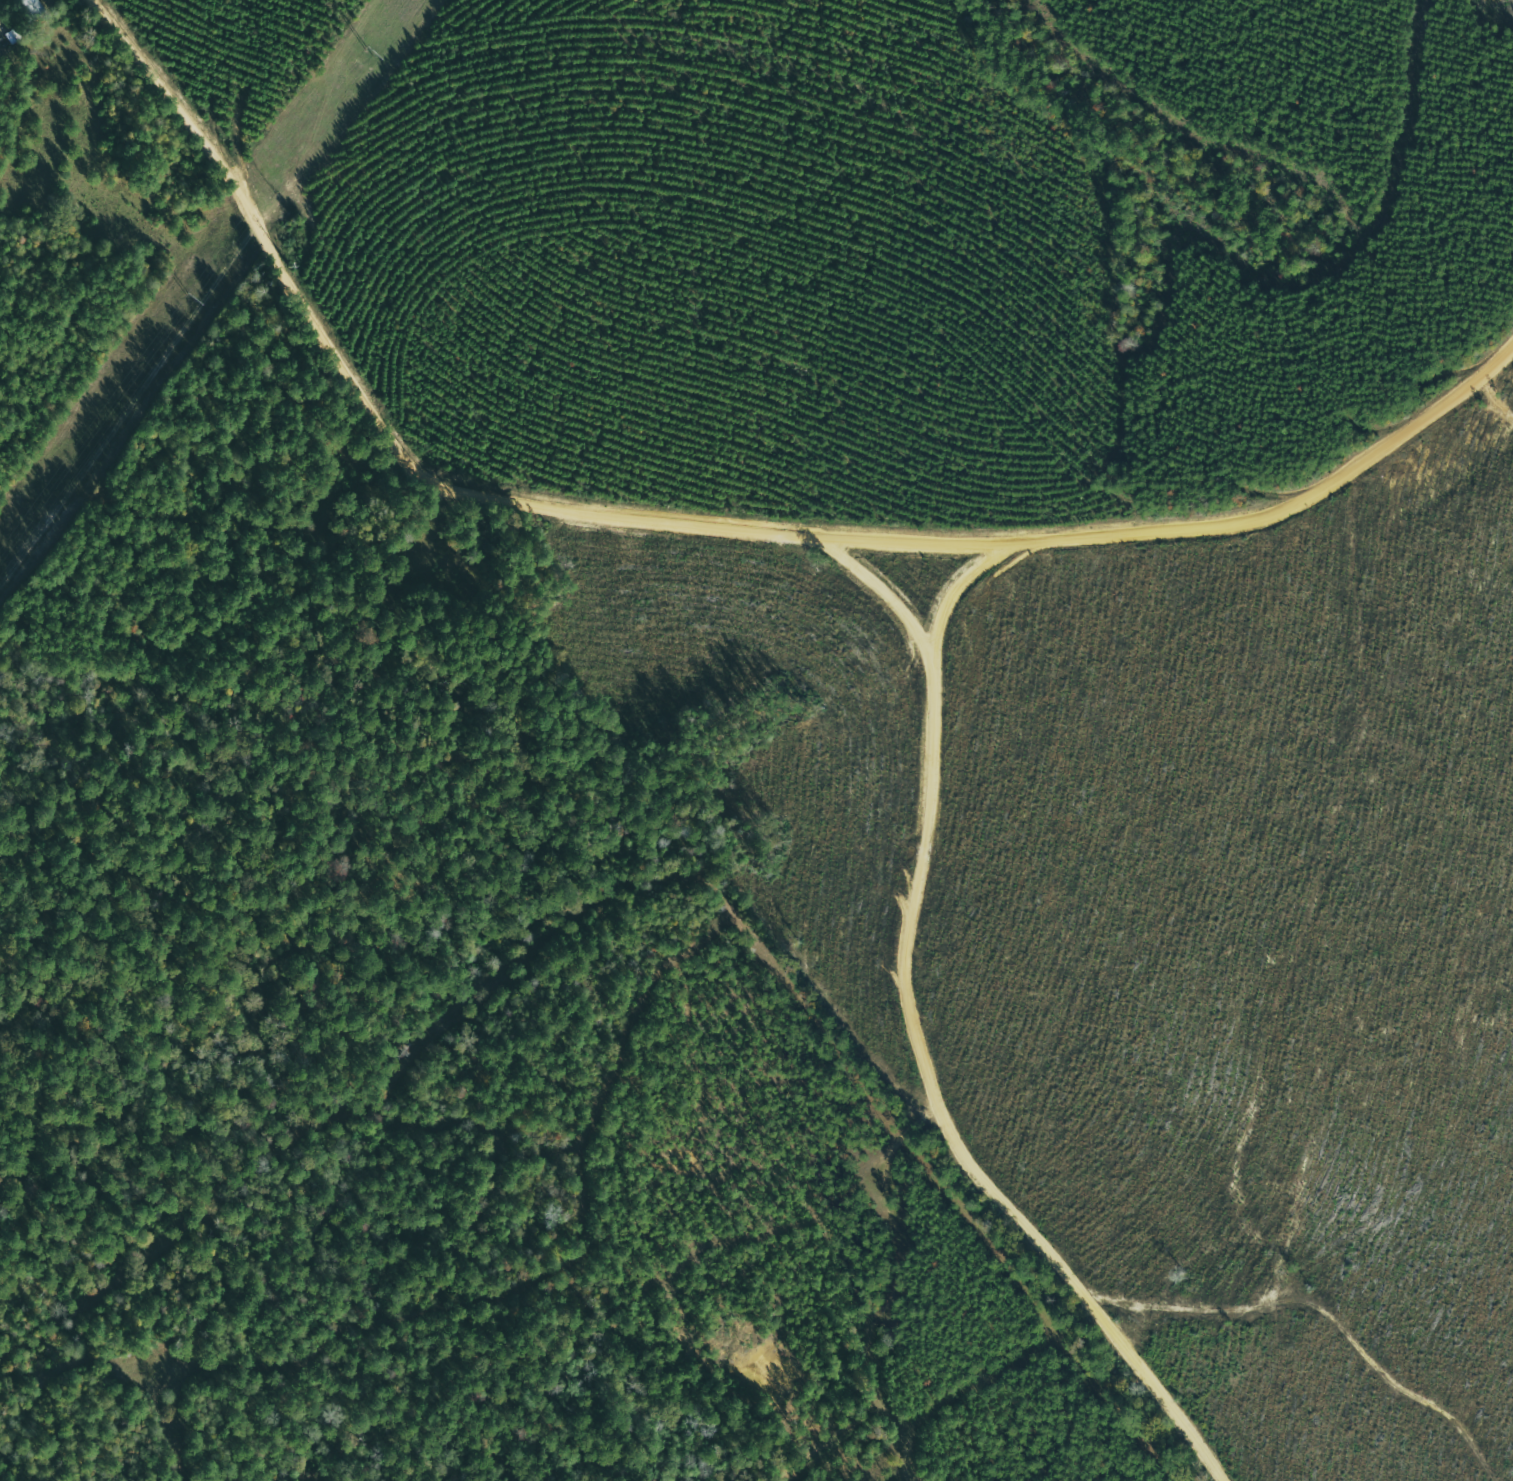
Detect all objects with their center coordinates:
building: (28, 9)
power tower: (367, 49)
power tower: (188, 296)
road: (705, 522)
road: (865, 602)
road: (907, 836)
road: (961, 1130)

